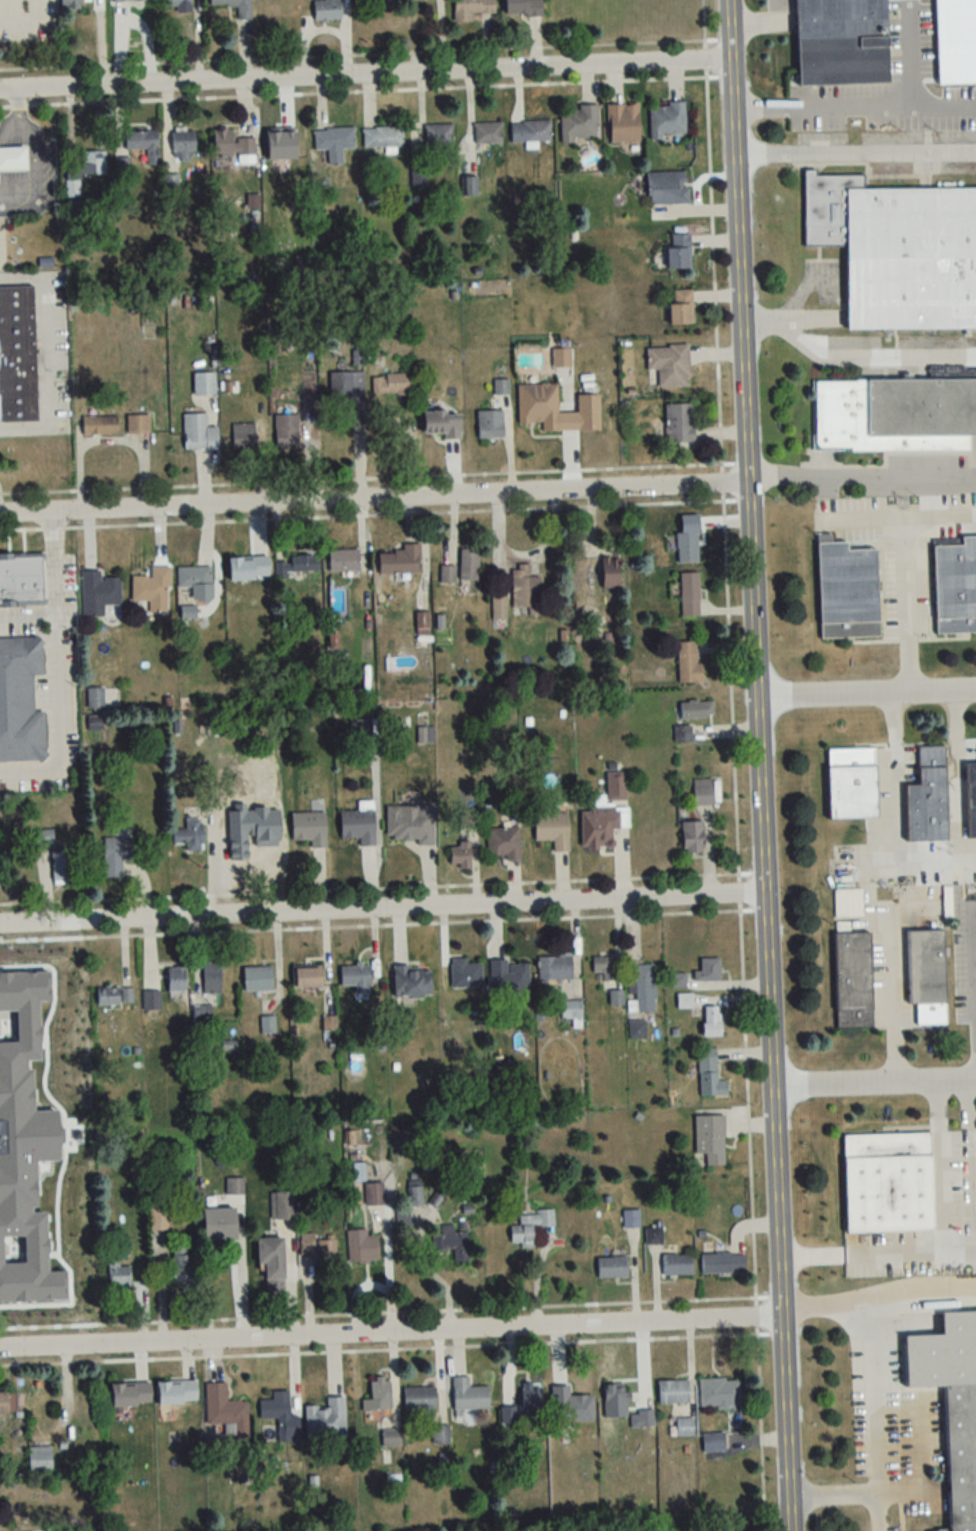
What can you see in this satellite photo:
building: (71, 4)
building: (177, 5)
building: (523, 7)
building: (326, 9)
building: (471, 9)
building: (243, 12)
building: (839, 19)
road: (763, 23)
road: (365, 75)
road: (943, 106)
road: (875, 107)
building: (667, 120)
building: (579, 122)
building: (623, 122)
building: (530, 130)
building: (488, 132)
building: (438, 135)
building: (382, 137)
building: (334, 142)
building: (182, 144)
building: (142, 146)
building: (232, 146)
road: (855, 150)
road: (37, 156)
building: (12, 159)
building: (92, 163)
building: (287, 181)
building: (469, 186)
building: (667, 187)
building: (898, 250)
building: (678, 251)
building: (680, 306)
building: (17, 354)
road: (45, 354)
road: (853, 354)
building: (561, 357)
building: (669, 364)
building: (203, 383)
building: (394, 389)
building: (347, 390)
building: (538, 405)
building: (894, 414)
building: (679, 423)
building: (137, 424)
building: (441, 424)
building: (490, 424)
building: (99, 425)
building: (286, 429)
building: (199, 433)
building: (243, 435)
road: (862, 473)
road: (373, 500)
road: (938, 515)
road: (860, 519)
building: (687, 547)
building: (344, 560)
building: (401, 562)
building: (298, 565)
building: (468, 565)
building: (610, 573)
building: (447, 575)
building: (193, 577)
building: (21, 581)
building: (955, 587)
building: (152, 590)
building: (847, 590)
building: (525, 591)
road: (55, 592)
building: (98, 594)
building: (689, 594)
road: (904, 605)
building: (499, 607)
building: (422, 622)
road: (754, 661)
building: (688, 663)
road: (865, 694)
building: (20, 698)
building: (696, 710)
road: (55, 719)
building: (360, 729)
building: (681, 734)
road: (736, 765)
road: (958, 778)
building: (851, 783)
building: (615, 786)
building: (702, 792)
building: (927, 798)
building: (971, 799)
building: (409, 824)
building: (358, 826)
building: (309, 828)
building: (598, 828)
building: (552, 830)
building: (191, 835)
building: (692, 837)
building: (40, 838)
building: (502, 843)
building: (115, 856)
building: (459, 856)
road: (923, 866)
building: (61, 867)
road: (872, 886)
road: (382, 910)
road: (973, 948)
building: (74, 968)
building: (555, 968)
building: (602, 969)
building: (707, 970)
building: (465, 974)
building: (926, 975)
building: (307, 977)
building: (508, 977)
building: (211, 978)
building: (356, 978)
building: (176, 979)
building: (257, 979)
building: (853, 979)
building: (677, 980)
building: (411, 982)
building: (643, 988)
building: (107, 995)
building: (151, 1000)
building: (684, 1000)
building: (571, 1010)
building: (200, 1013)
building: (711, 1021)
building: (636, 1029)
building: (709, 1073)
road: (874, 1083)
building: (533, 1120)
building: (710, 1137)
building: (888, 1182)
road: (963, 1182)
building: (234, 1186)
building: (373, 1194)
building: (282, 1205)
building: (158, 1212)
building: (631, 1218)
building: (218, 1224)
building: (529, 1226)
building: (653, 1234)
building: (452, 1242)
road: (934, 1243)
building: (307, 1244)
building: (362, 1247)
building: (721, 1262)
building: (271, 1264)
building: (677, 1264)
building: (183, 1265)
building: (612, 1266)
building: (118, 1273)
road: (921, 1286)
road: (823, 1304)
road: (391, 1335)
building: (379, 1391)
building: (673, 1391)
building: (719, 1392)
building: (469, 1395)
building: (419, 1399)
building: (531, 1400)
building: (616, 1402)
building: (8, 1404)
building: (223, 1406)
road: (874, 1414)
building: (279, 1417)
building: (642, 1419)
building: (326, 1420)
road: (786, 1426)
building: (684, 1427)
building: (440, 1433)
building: (390, 1437)
building: (713, 1442)
building: (539, 1452)
building: (961, 1454)
building: (39, 1458)
road: (833, 1492)

